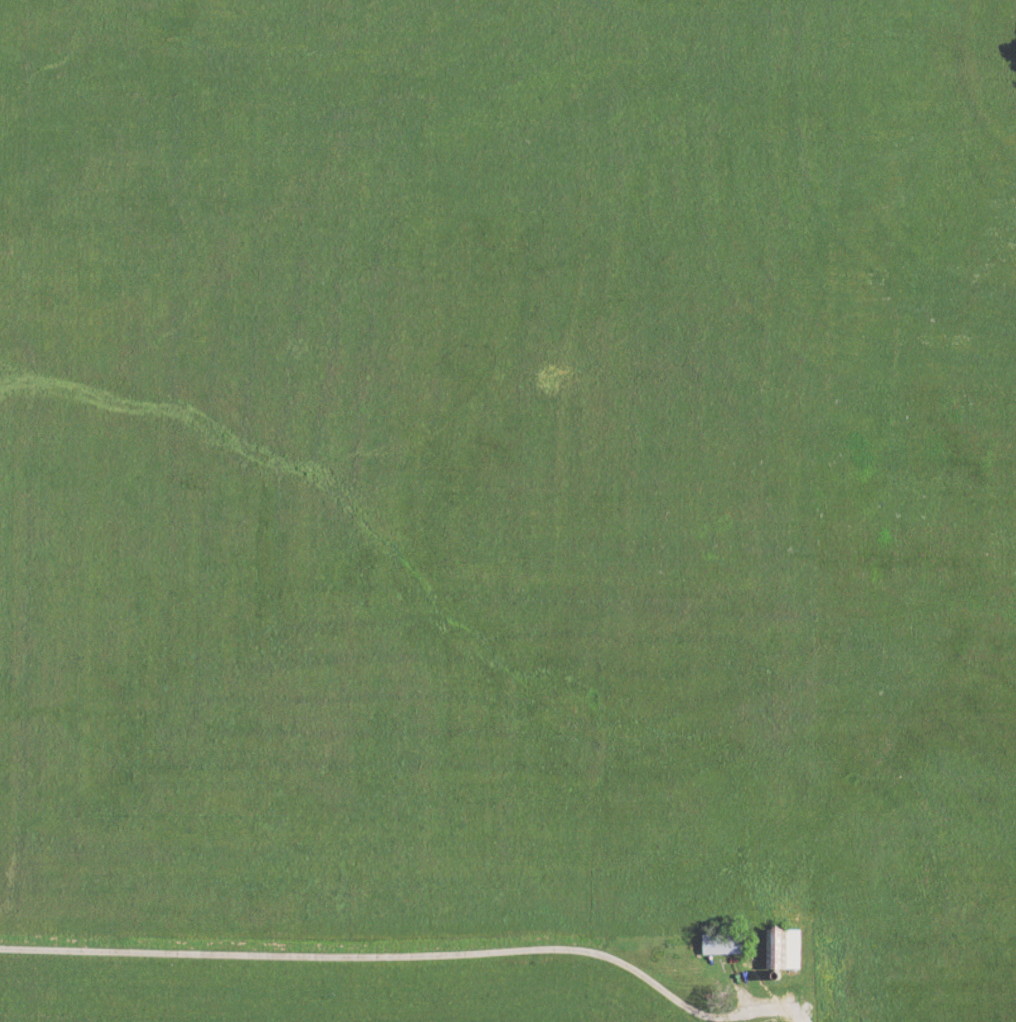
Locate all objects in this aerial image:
building: (717, 947)
building: (780, 950)
road: (415, 955)

